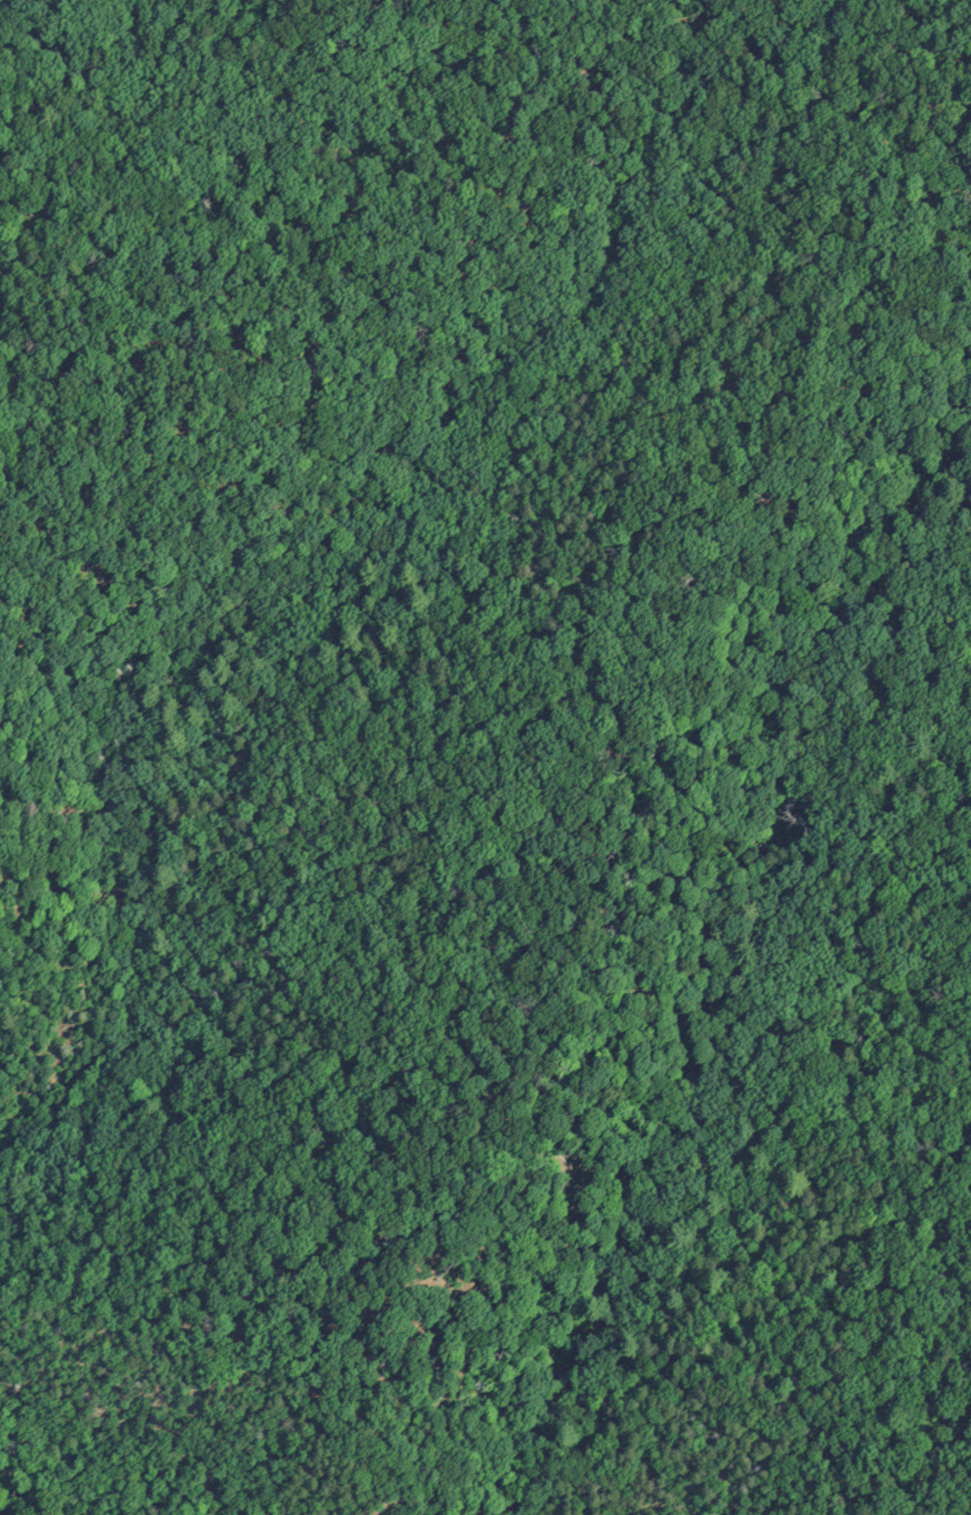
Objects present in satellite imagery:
road: (40, 1491)

